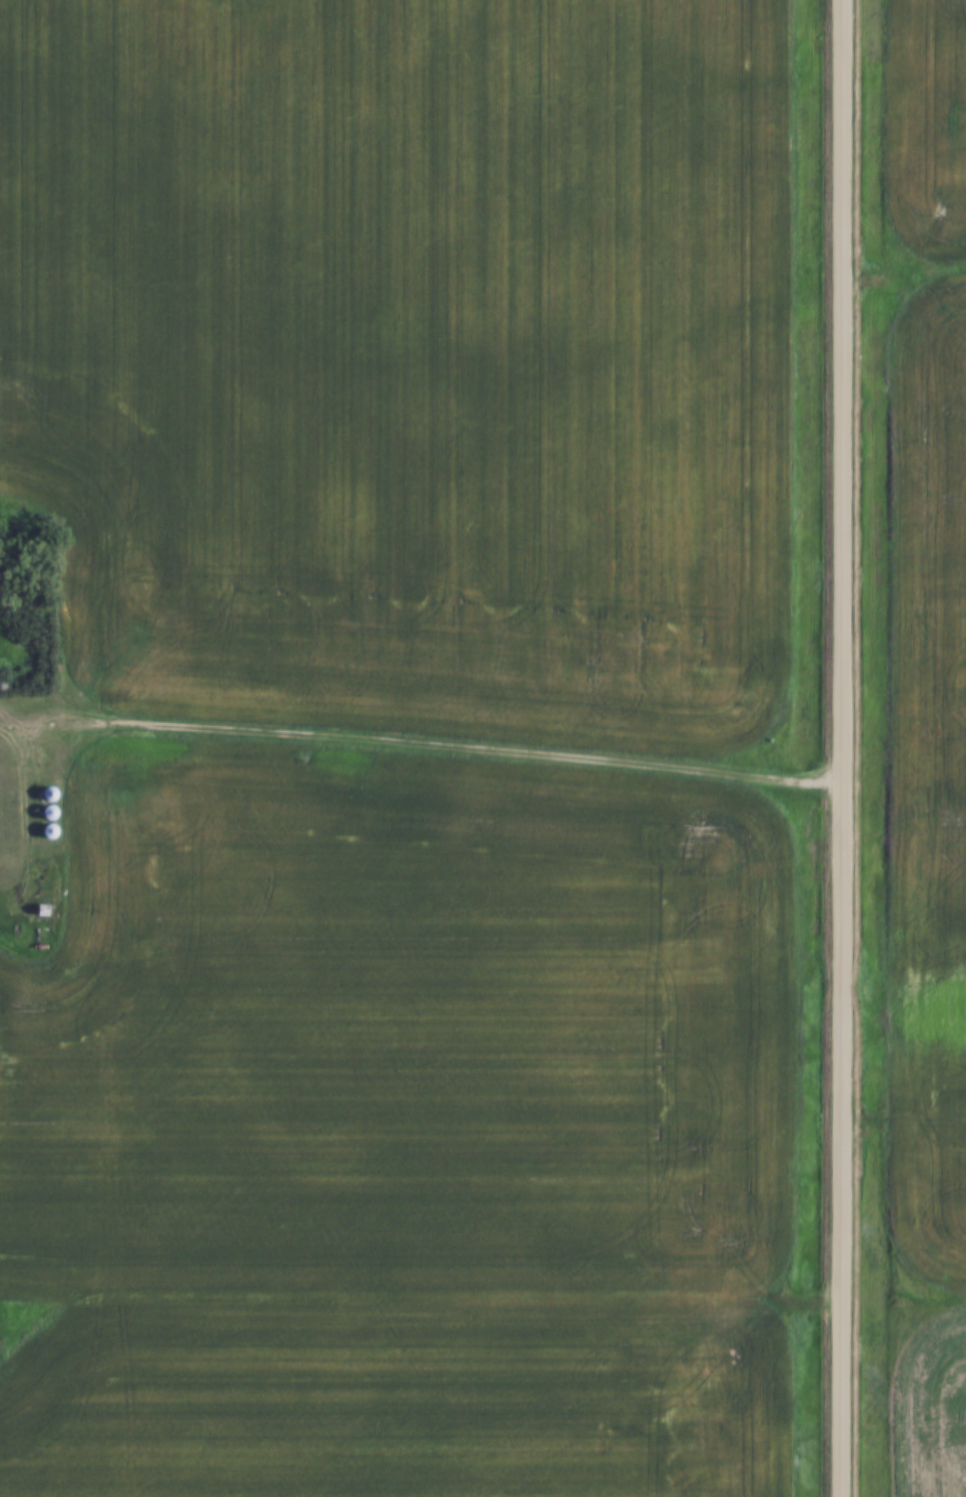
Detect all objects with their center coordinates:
road: (421, 745)
road: (843, 748)
building: (48, 795)
building: (47, 814)
building: (48, 832)
building: (41, 911)

